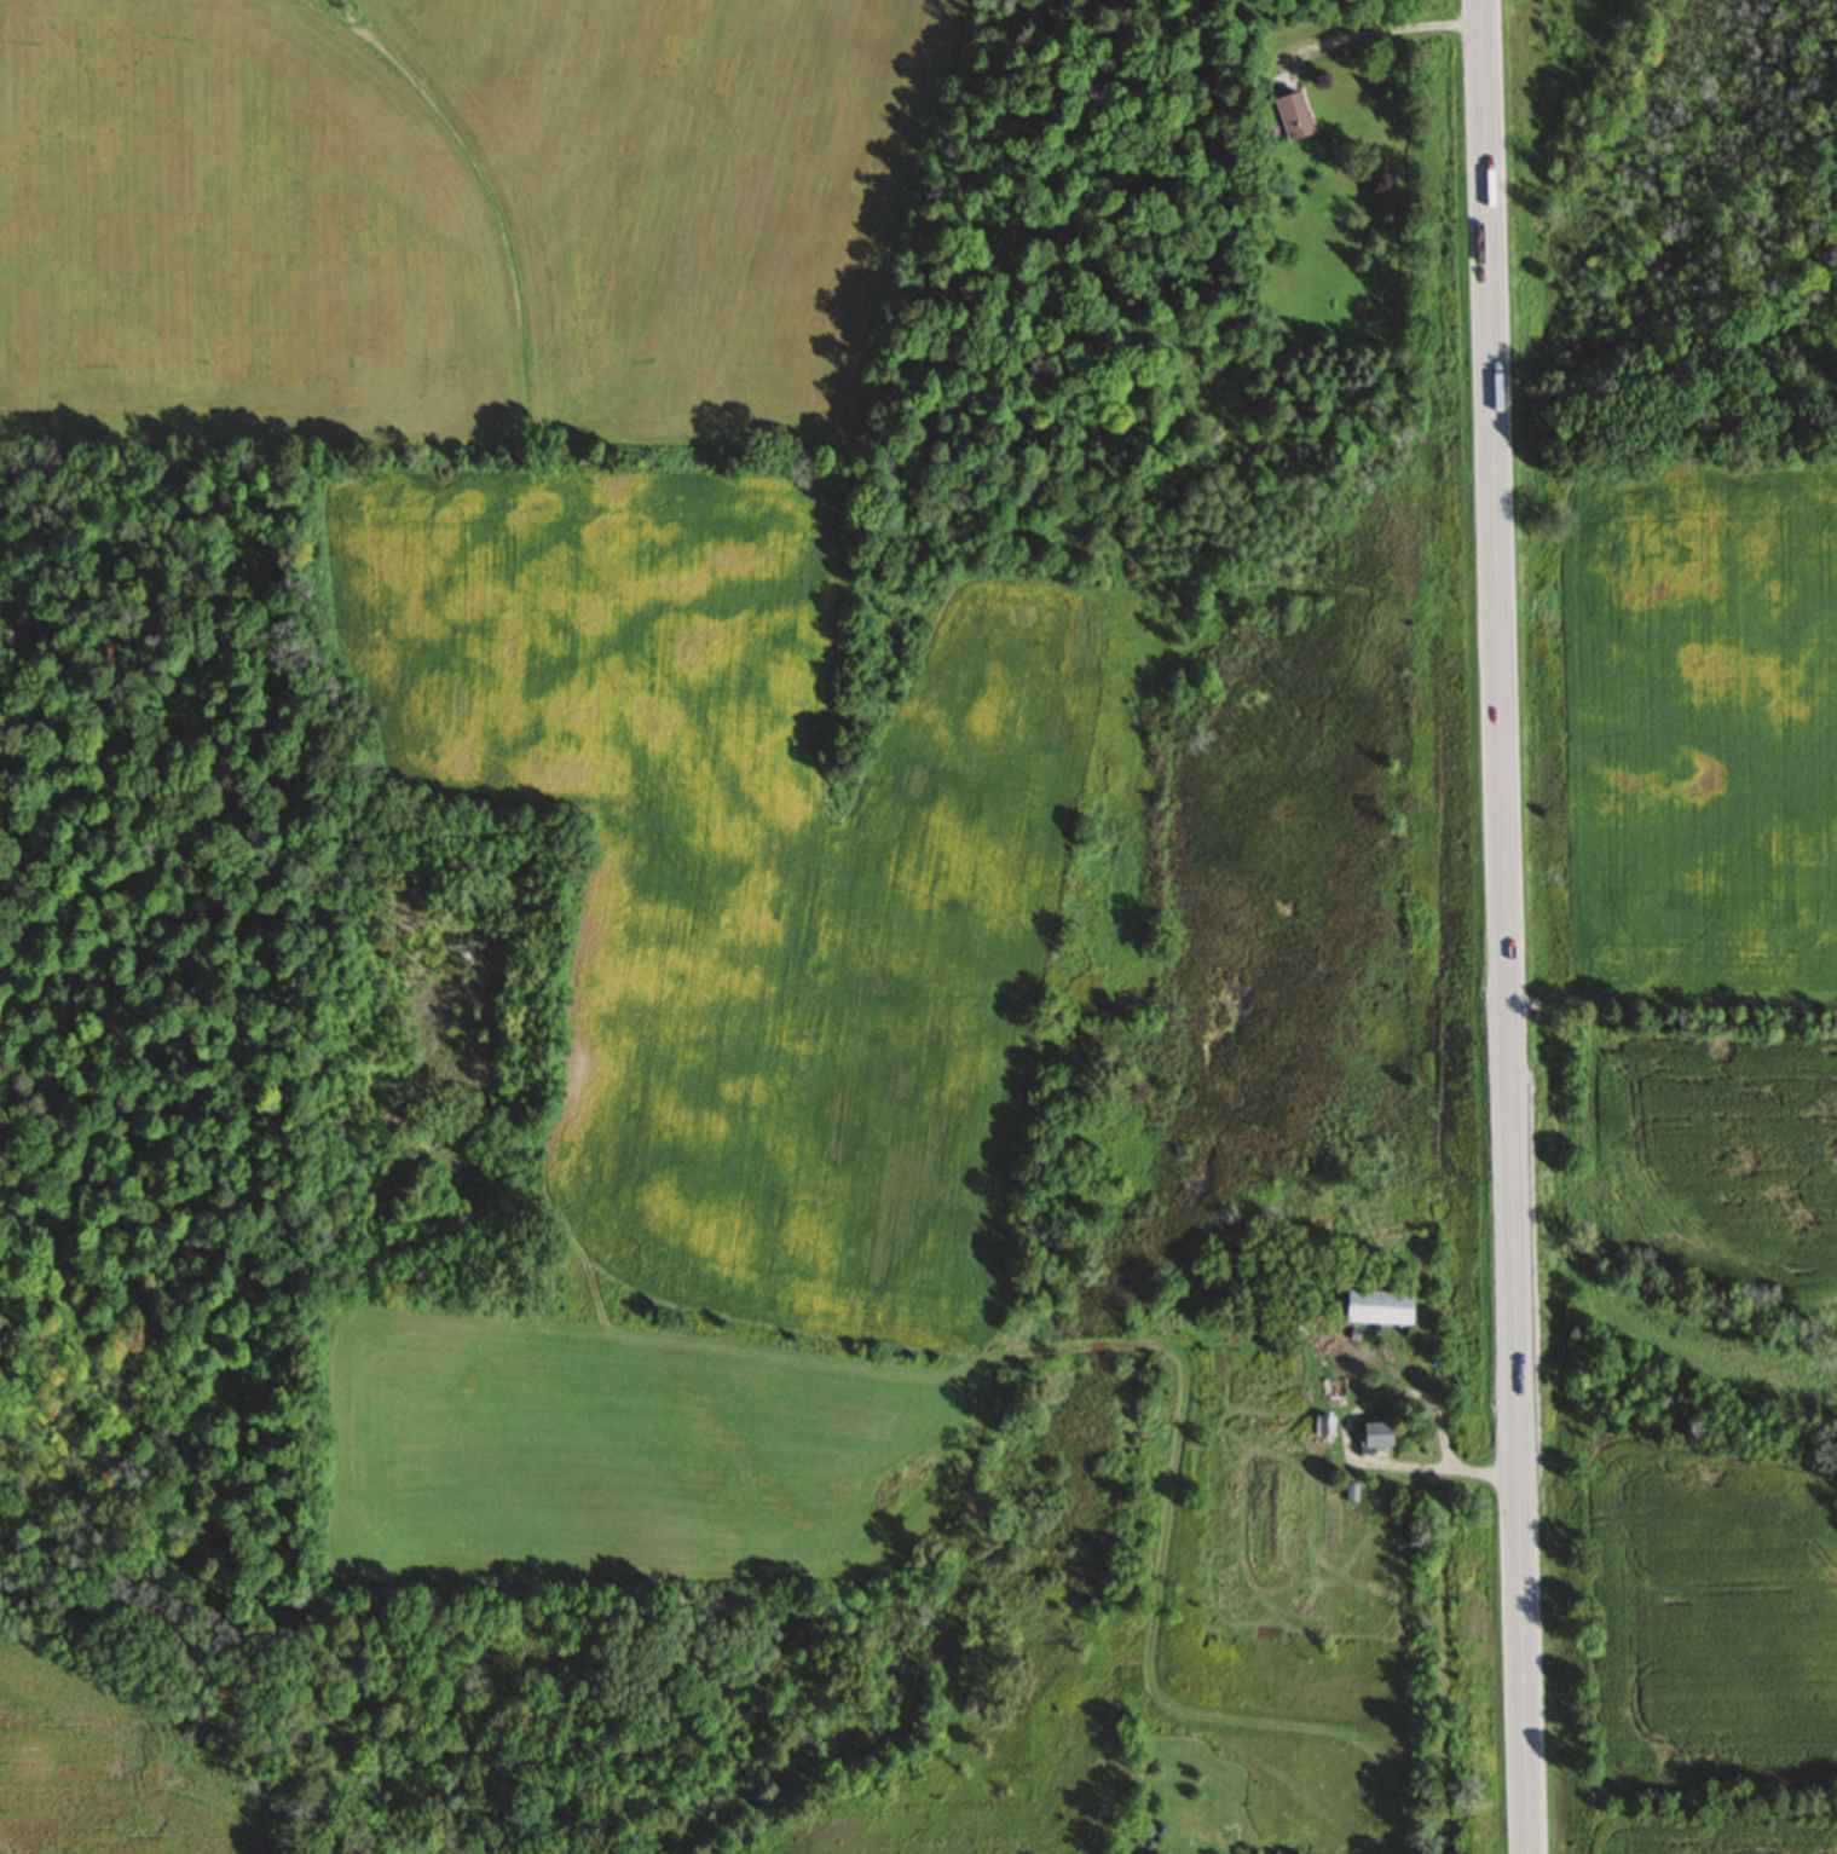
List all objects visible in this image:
building: (1292, 115)
road: (1503, 926)
building: (1359, 1312)
building: (1333, 1387)
building: (1323, 1423)
building: (1375, 1432)

